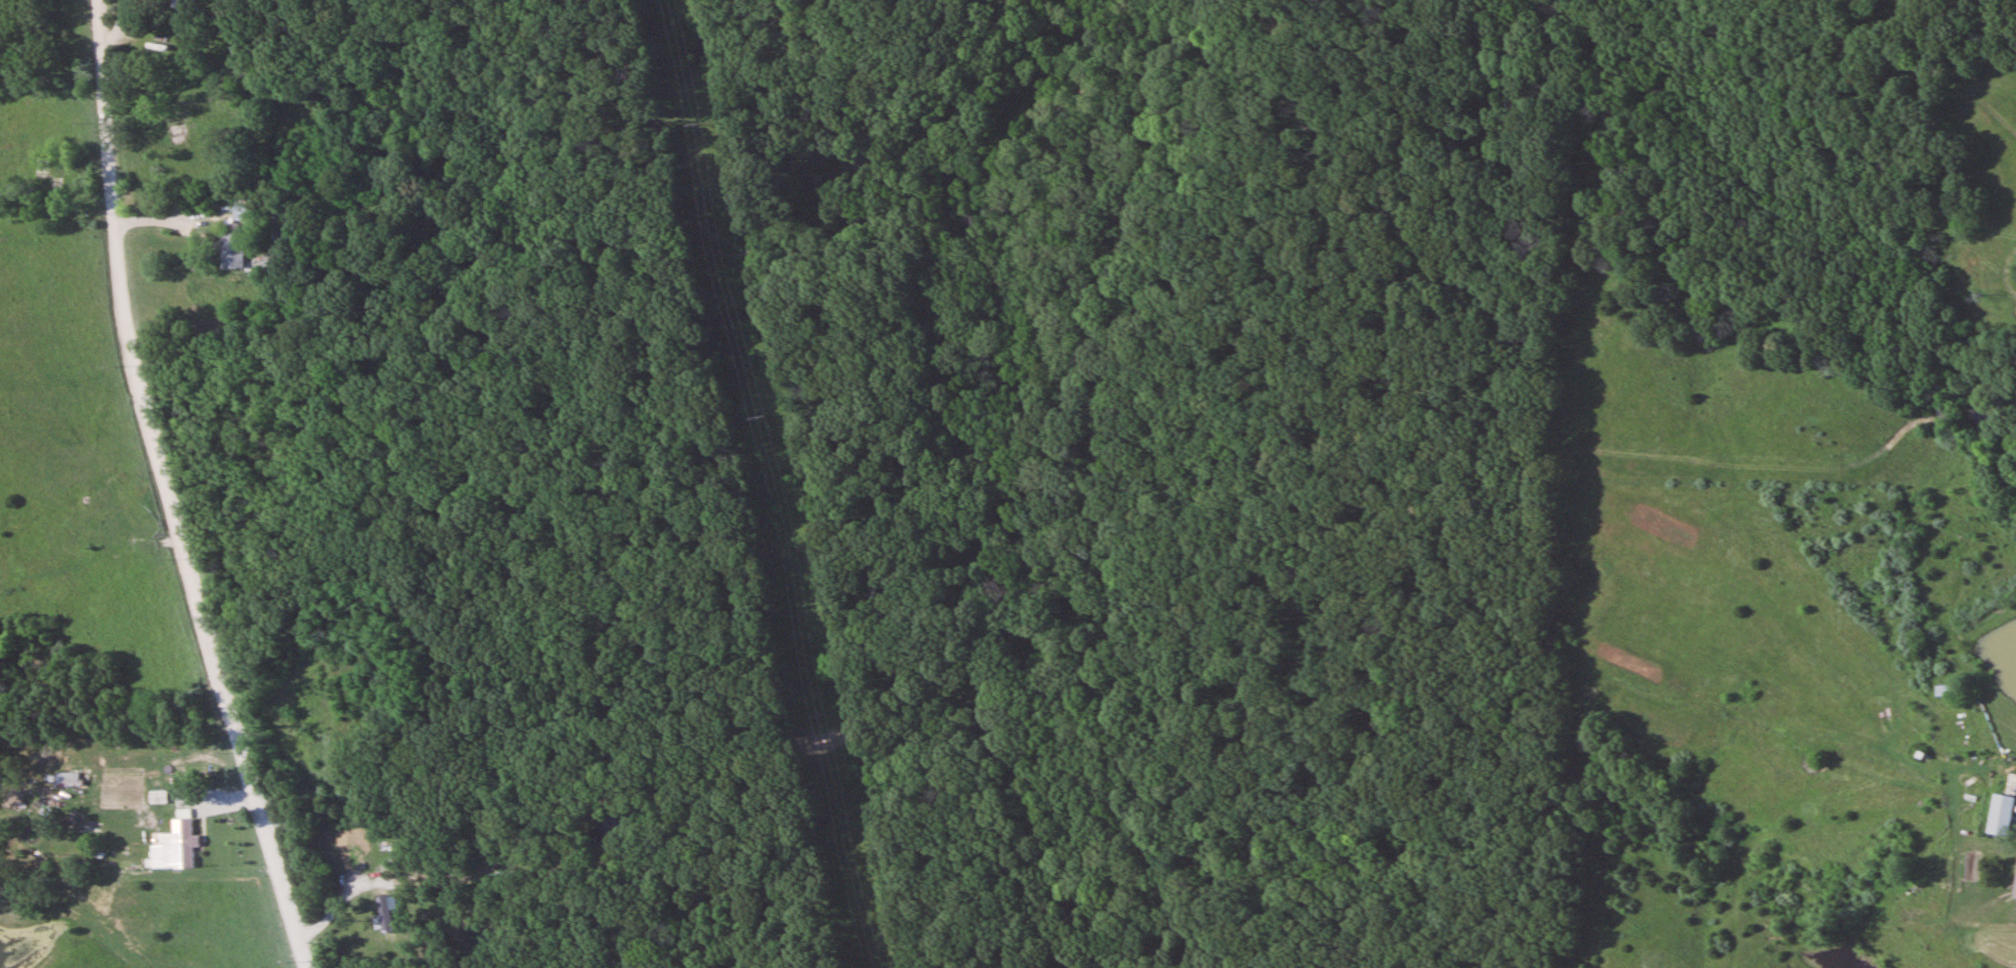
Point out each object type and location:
building: (185, 4)
building: (155, 118)
power tower: (691, 125)
building: (231, 246)
power tower: (756, 422)
road: (166, 490)
building: (1949, 690)
power tower: (820, 744)
building: (2012, 783)
building: (2002, 815)
building: (185, 843)
building: (2015, 894)
building: (386, 917)

